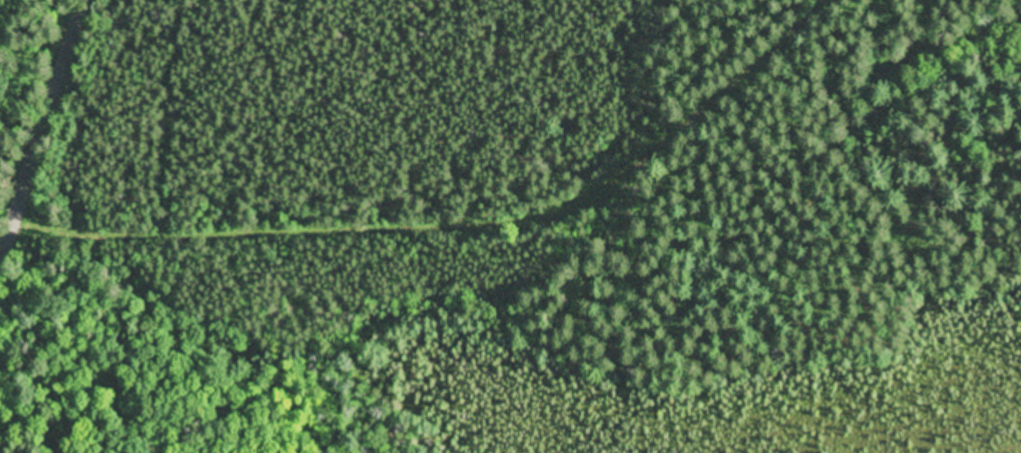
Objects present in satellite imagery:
road: (43, 137)

